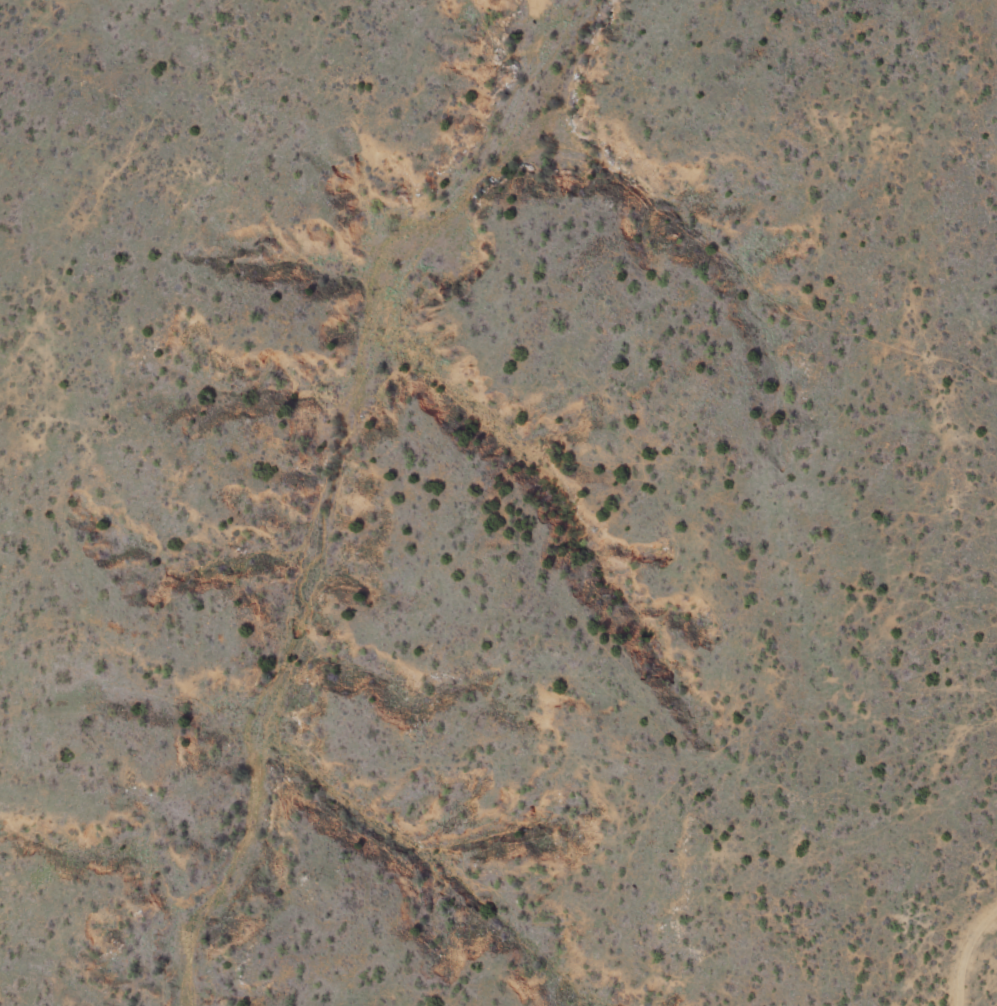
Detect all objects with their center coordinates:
road: (996, 1005)

